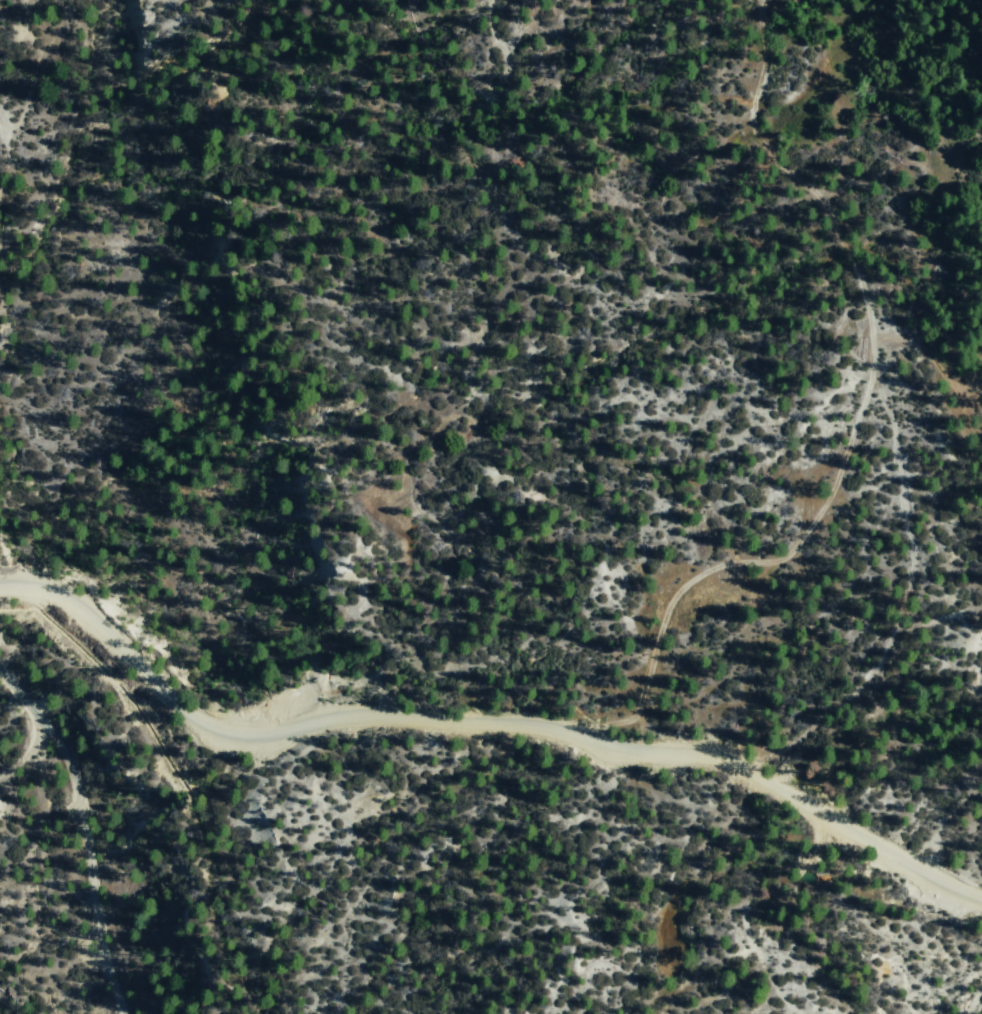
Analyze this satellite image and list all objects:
road: (854, 415)
road: (483, 717)

